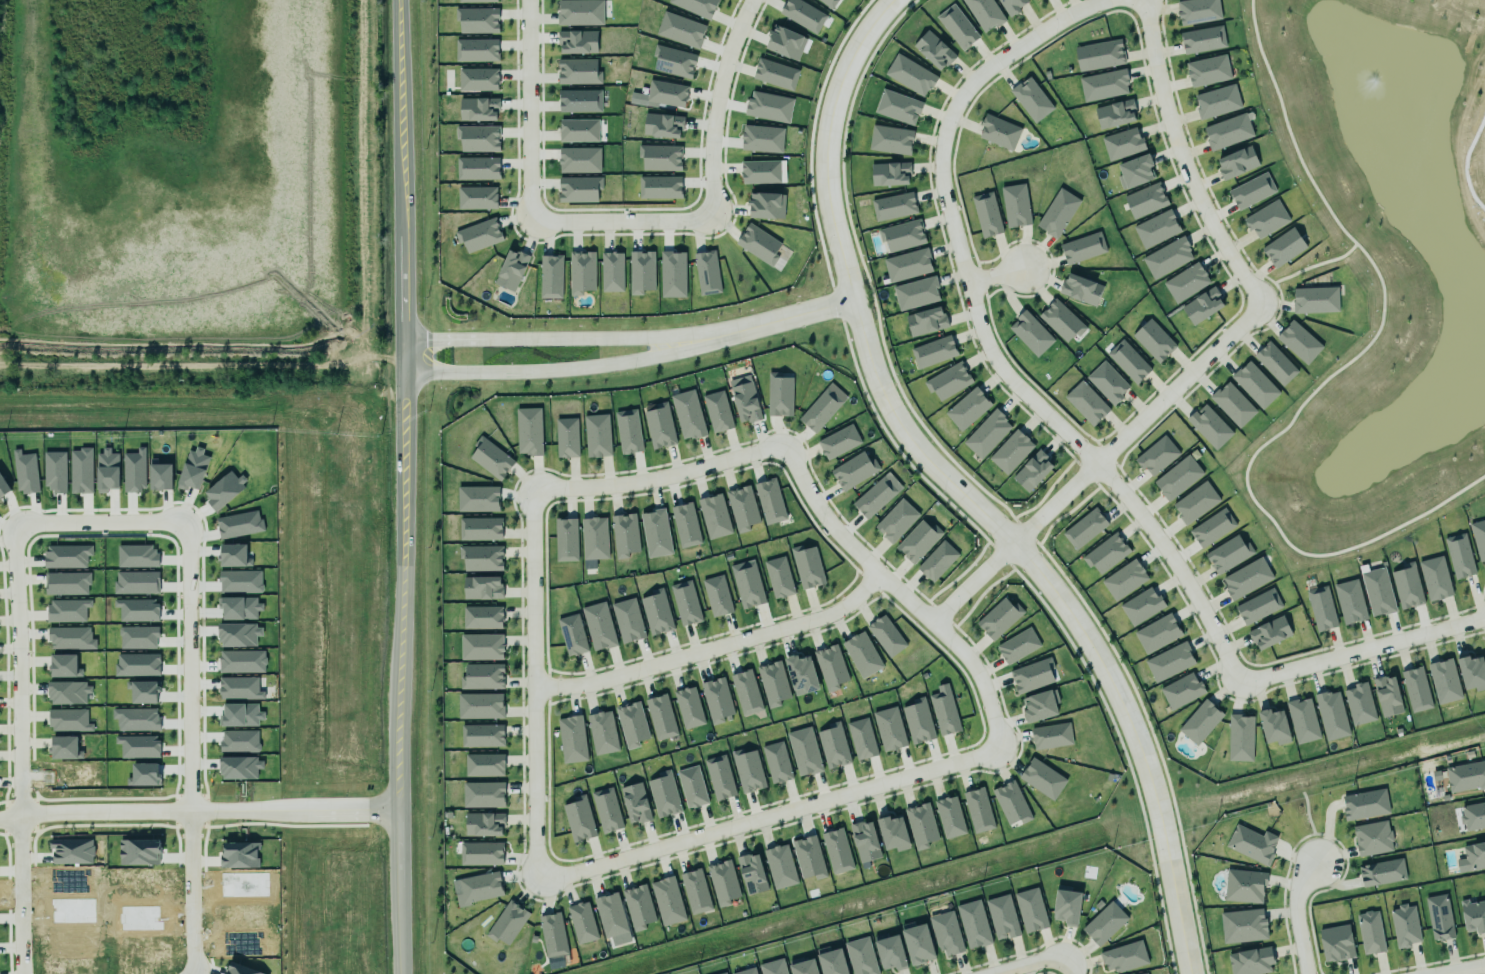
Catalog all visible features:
building: (477, 1)
building: (1008, 6)
building: (696, 7)
building: (1197, 11)
building: (580, 12)
road: (881, 12)
building: (984, 13)
building: (803, 15)
building: (957, 27)
building: (682, 28)
building: (1202, 40)
building: (577, 42)
building: (785, 43)
building: (476, 50)
building: (933, 50)
building: (1099, 55)
building: (675, 60)
building: (578, 69)
building: (1205, 69)
building: (777, 73)
building: (910, 75)
building: (478, 79)
fountain: (1368, 84)
building: (1103, 85)
building: (667, 92)
building: (580, 99)
building: (1031, 99)
building: (1215, 100)
road: (713, 103)
building: (768, 106)
building: (898, 107)
building: (478, 109)
road: (529, 109)
building: (1113, 112)
building: (664, 125)
building: (577, 129)
building: (1228, 131)
building: (999, 132)
building: (763, 137)
building: (478, 138)
building: (890, 140)
building: (1122, 144)
building: (661, 157)
building: (578, 159)
road: (1183, 160)
building: (1236, 162)
building: (762, 170)
building: (888, 171)
building: (1134, 172)
building: (661, 185)
building: (580, 188)
building: (1251, 191)
building: (476, 198)
building: (1143, 199)
building: (765, 203)
building: (1013, 203)
building: (893, 206)
building: (1057, 213)
building: (985, 214)
building: (1266, 219)
road: (619, 220)
building: (1153, 227)
building: (900, 234)
building: (479, 235)
building: (758, 244)
building: (1281, 246)
building: (1082, 248)
building: (1165, 256)
building: (905, 263)
building: (511, 270)
building: (706, 271)
building: (581, 272)
building: (612, 272)
building: (641, 272)
building: (671, 272)
road: (998, 275)
building: (550, 276)
building: (1185, 281)
building: (1078, 287)
building: (915, 292)
building: (1314, 298)
building: (1202, 306)
building: (1059, 319)
building: (925, 321)
road: (760, 324)
building: (1029, 333)
road: (531, 339)
road: (986, 340)
building: (1153, 340)
building: (1299, 342)
building: (933, 352)
building: (1125, 360)
building: (1275, 363)
road: (532, 372)
building: (948, 381)
building: (1107, 382)
building: (1253, 382)
building: (779, 395)
building: (1084, 401)
building: (745, 403)
building: (1232, 404)
building: (967, 409)
building: (716, 411)
building: (819, 411)
building: (687, 415)
building: (659, 426)
building: (1209, 426)
building: (528, 431)
building: (628, 432)
building: (987, 434)
building: (597, 435)
building: (565, 436)
building: (838, 442)
building: (1008, 450)
building: (1157, 456)
building: (491, 458)
road: (1096, 463)
building: (193, 469)
building: (1030, 469)
building: (80, 470)
building: (107, 470)
building: (134, 470)
building: (854, 470)
building: (54, 471)
building: (25, 472)
building: (160, 476)
road: (659, 477)
building: (1178, 478)
road: (397, 486)
building: (3, 487)
building: (224, 490)
building: (873, 497)
building: (770, 501)
building: (1195, 503)
road: (973, 504)
building: (742, 508)
building: (714, 516)
building: (896, 520)
building: (239, 524)
building: (684, 524)
road: (91, 525)
building: (1212, 527)
building: (1084, 528)
building: (480, 529)
building: (655, 533)
building: (624, 535)
building: (1478, 537)
building: (565, 540)
building: (594, 540)
building: (918, 541)
building: (1106, 553)
building: (1227, 553)
building: (234, 555)
building: (66, 556)
building: (136, 556)
building: (1459, 556)
building: (481, 558)
building: (937, 559)
building: (807, 567)
building: (779, 577)
building: (1246, 578)
building: (1435, 578)
building: (1124, 580)
building: (136, 582)
building: (240, 582)
building: (67, 583)
building: (747, 584)
building: (1407, 586)
building: (482, 587)
building: (1377, 592)
road: (899, 593)
building: (717, 596)
building: (1350, 601)
building: (684, 602)
building: (1139, 604)
building: (1256, 605)
building: (1319, 607)
building: (240, 608)
building: (68, 610)
building: (137, 610)
building: (656, 612)
building: (997, 616)
building: (482, 617)
building: (627, 620)
building: (599, 626)
building: (1269, 633)
building: (1157, 634)
building: (572, 635)
building: (886, 636)
building: (138, 637)
building: (71, 638)
building: (480, 646)
building: (1017, 646)
road: (712, 647)
road: (1362, 651)
building: (861, 653)
building: (242, 661)
building: (1169, 662)
building: (137, 665)
building: (64, 666)
building: (830, 667)
building: (801, 673)
building: (1032, 673)
building: (1471, 673)
building: (482, 676)
building: (1444, 681)
building: (773, 684)
road: (532, 685)
building: (239, 688)
building: (68, 689)
building: (1416, 689)
building: (1181, 691)
building: (143, 692)
building: (746, 692)
building: (1385, 694)
building: (717, 701)
building: (1359, 704)
building: (480, 706)
building: (687, 706)
building: (1040, 706)
building: (944, 711)
building: (1331, 715)
building: (660, 716)
building: (136, 719)
building: (917, 719)
building: (69, 720)
building: (1302, 720)
building: (1200, 722)
building: (630, 724)
building: (1273, 724)
building: (889, 729)
building: (602, 733)
building: (482, 735)
building: (1051, 736)
building: (1240, 738)
building: (572, 739)
building: (861, 739)
building: (239, 741)
building: (63, 744)
building: (833, 746)
building: (139, 748)
building: (804, 751)
building: (776, 762)
building: (484, 765)
building: (747, 770)
building: (1465, 775)
building: (1041, 776)
building: (719, 777)
building: (692, 787)
building: (483, 794)
building: (663, 795)
building: (1010, 801)
building: (635, 803)
building: (1362, 803)
building: (607, 810)
building: (978, 810)
road: (292, 811)
road: (766, 816)
building: (1473, 816)
building: (949, 817)
road: (99, 818)
building: (578, 820)
building: (919, 823)
building: (484, 824)
building: (893, 830)
building: (1370, 837)
building: (865, 841)
building: (1252, 844)
building: (837, 851)
building: (139, 852)
building: (480, 852)
building: (1472, 857)
building: (808, 858)
building: (780, 866)
building: (1382, 872)
building: (752, 874)
building: (723, 883)
building: (1244, 884)
building: (479, 888)
road: (16, 890)
building: (695, 891)
road: (186, 895)
building: (666, 899)
building: (1064, 904)
building: (637, 906)
building: (1030, 910)
building: (610, 915)
road: (1294, 915)
building: (1438, 915)
building: (1473, 915)
building: (999, 916)
building: (582, 922)
building: (972, 922)
building: (507, 923)
building: (1104, 923)
building: (1403, 924)
building: (1242, 925)
building: (944, 932)
building: (1370, 932)
building: (552, 935)
building: (1336, 941)
building: (915, 942)
building: (888, 951)
building: (858, 956)
building: (1123, 957)
building: (829, 960)
building: (1251, 961)
road: (1032, 963)
road: (1071, 963)
building: (800, 966)
building: (773, 967)
building: (743, 970)
road: (1467, 970)
building: (720, 972)
building: (1144, 973)

